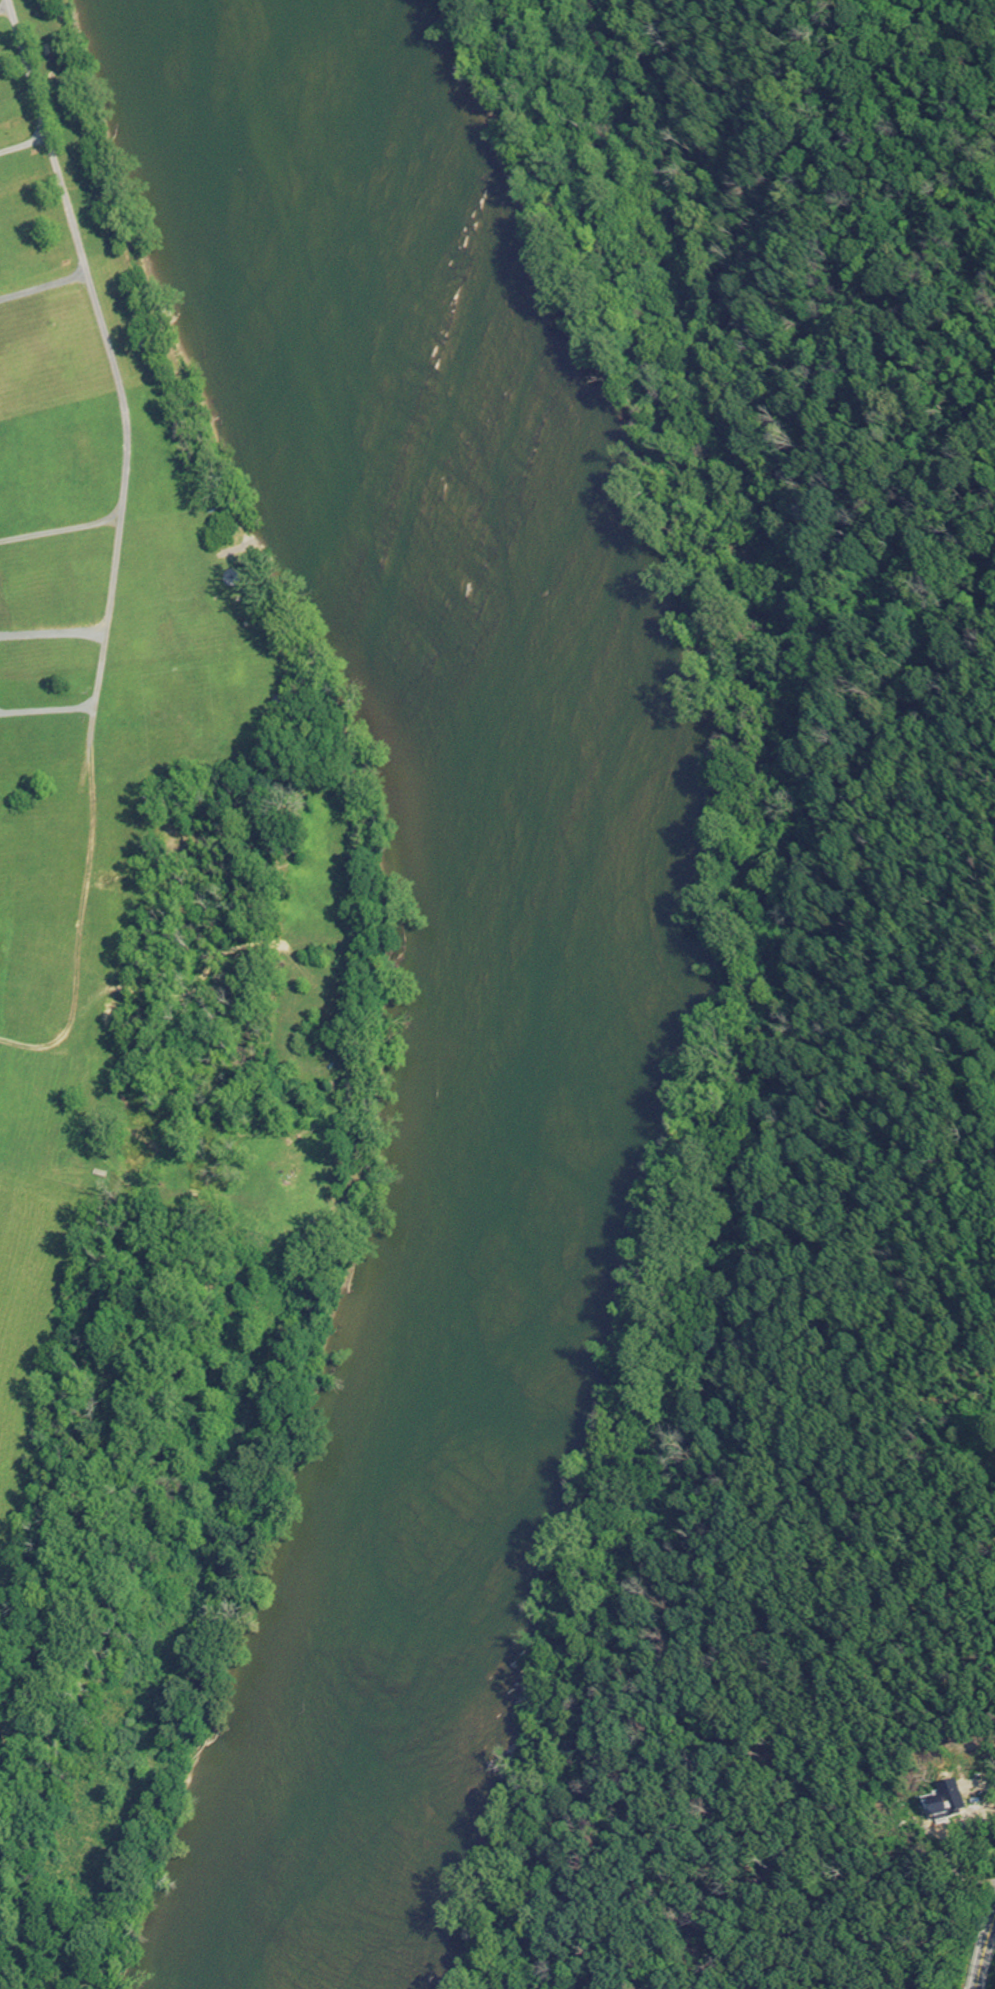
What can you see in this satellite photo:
road: (5, 9)
road: (23, 145)
road: (42, 283)
road: (59, 531)
road: (115, 545)
road: (53, 636)
road: (47, 712)
river: (543, 990)
building: (947, 1798)
road: (984, 1949)

